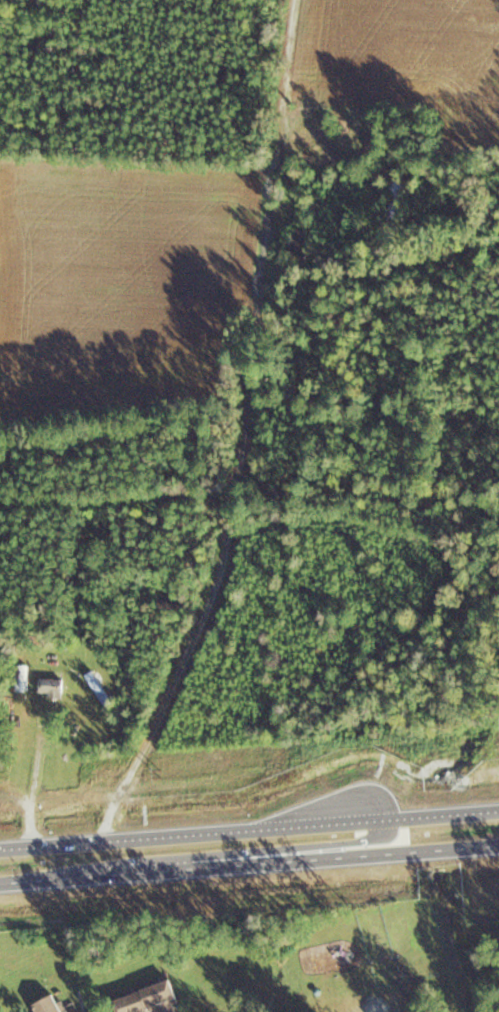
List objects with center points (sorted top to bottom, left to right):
building: (397, 200)
building: (298, 244)
road: (240, 433)
building: (170, 606)
building: (21, 678)
building: (50, 687)
building: (98, 689)
power tower: (150, 775)
road: (34, 790)
road: (249, 830)
road: (284, 852)
road: (336, 857)
road: (124, 874)
road: (37, 880)
airport: (256, 899)
building: (149, 1000)
building: (46, 1006)

